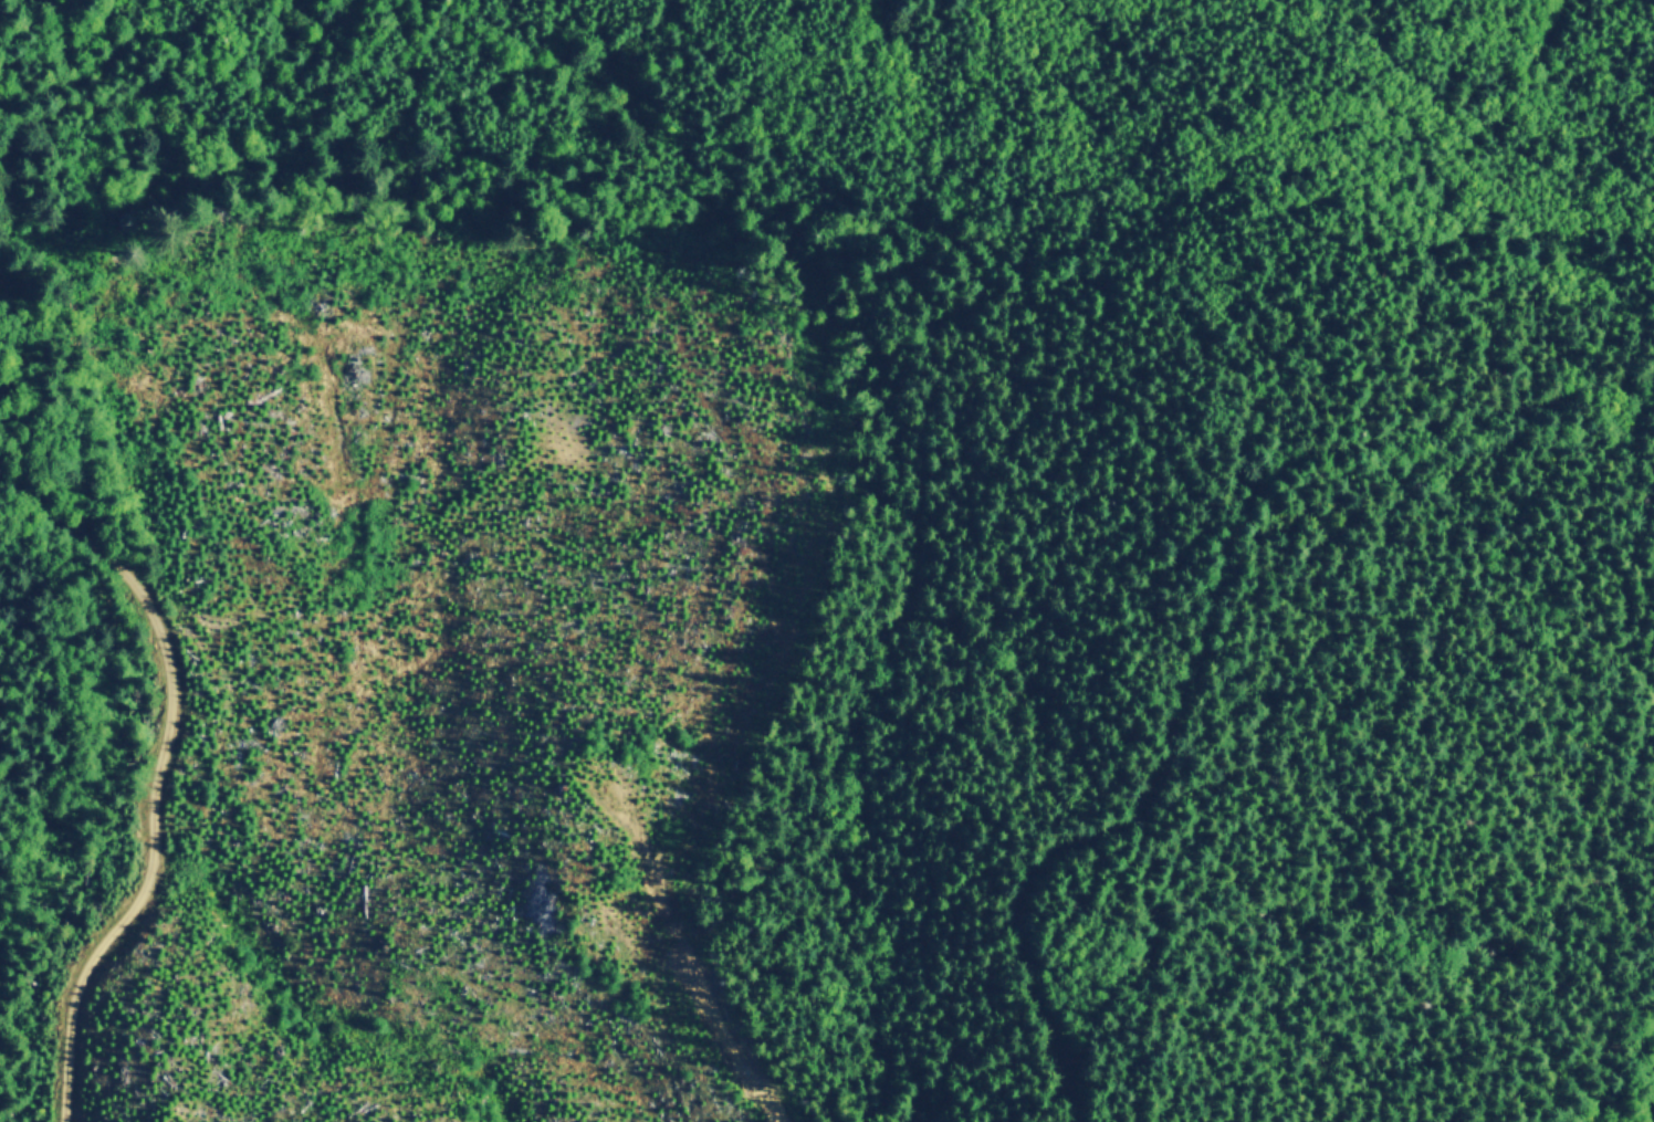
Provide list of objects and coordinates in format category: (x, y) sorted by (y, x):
road: (266, 710)

